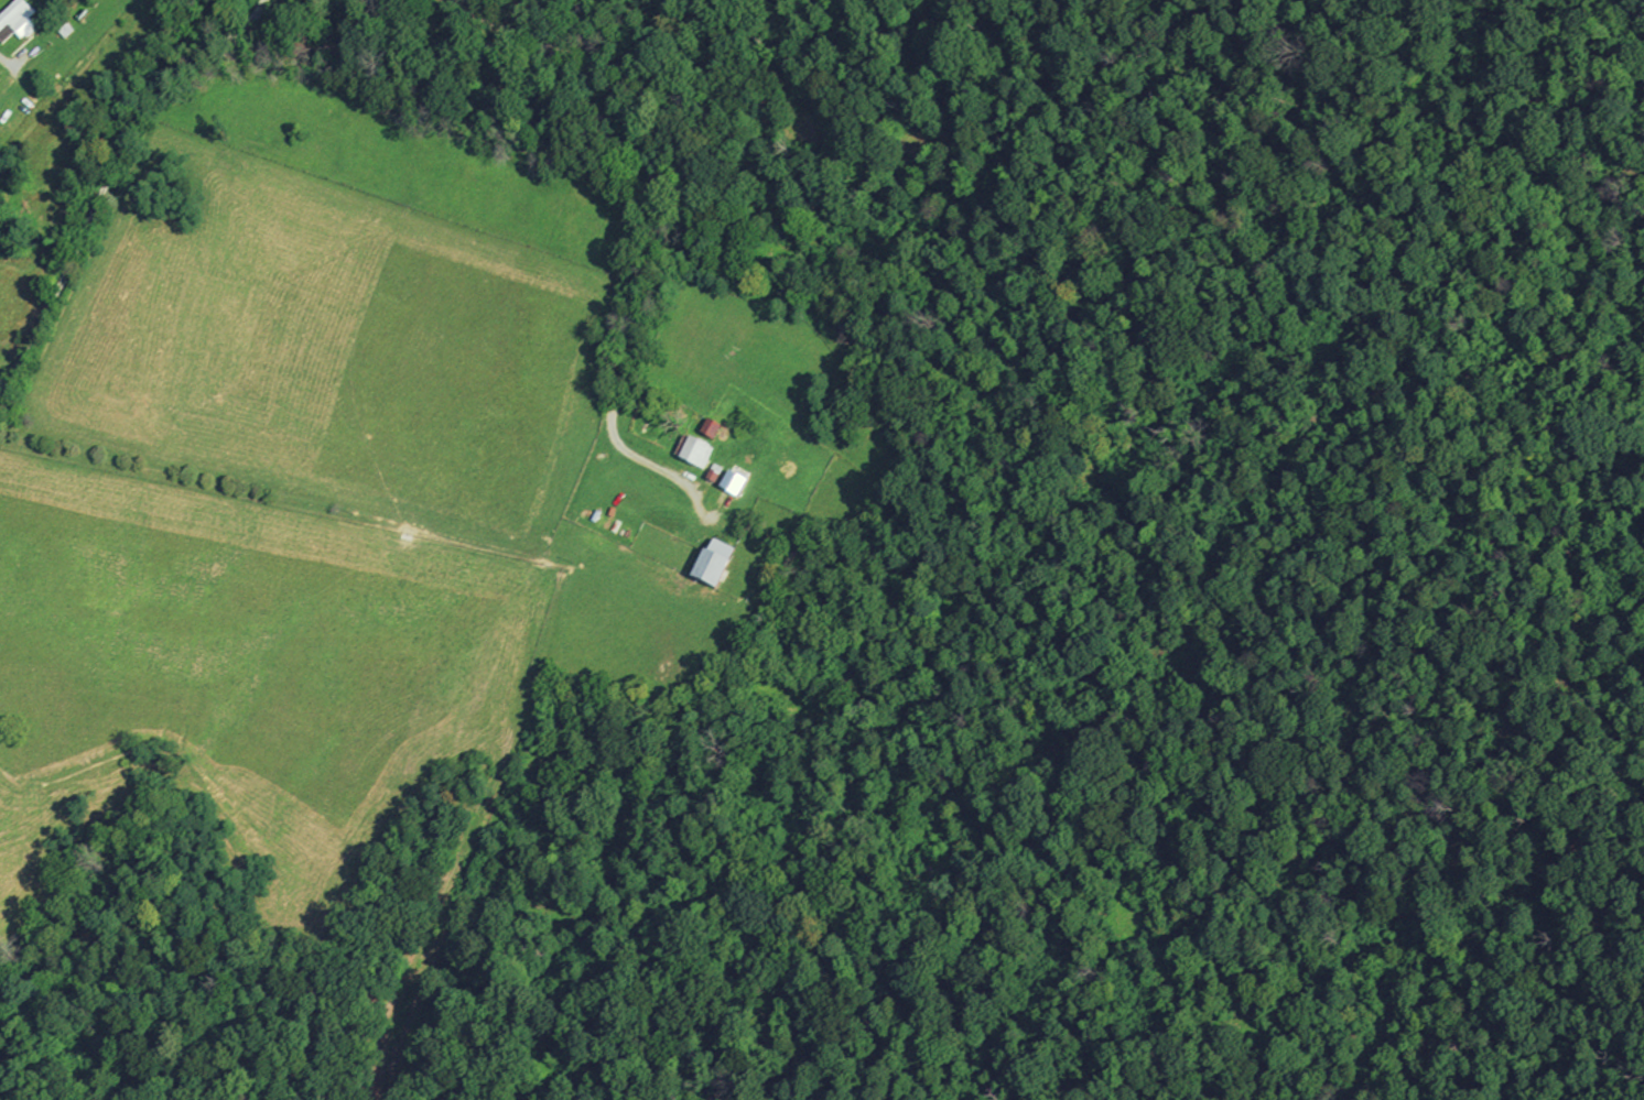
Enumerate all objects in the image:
building: (15, 21)
road: (109, 172)
road: (652, 199)
building: (704, 428)
building: (690, 451)
building: (711, 563)
road: (1327, 649)

